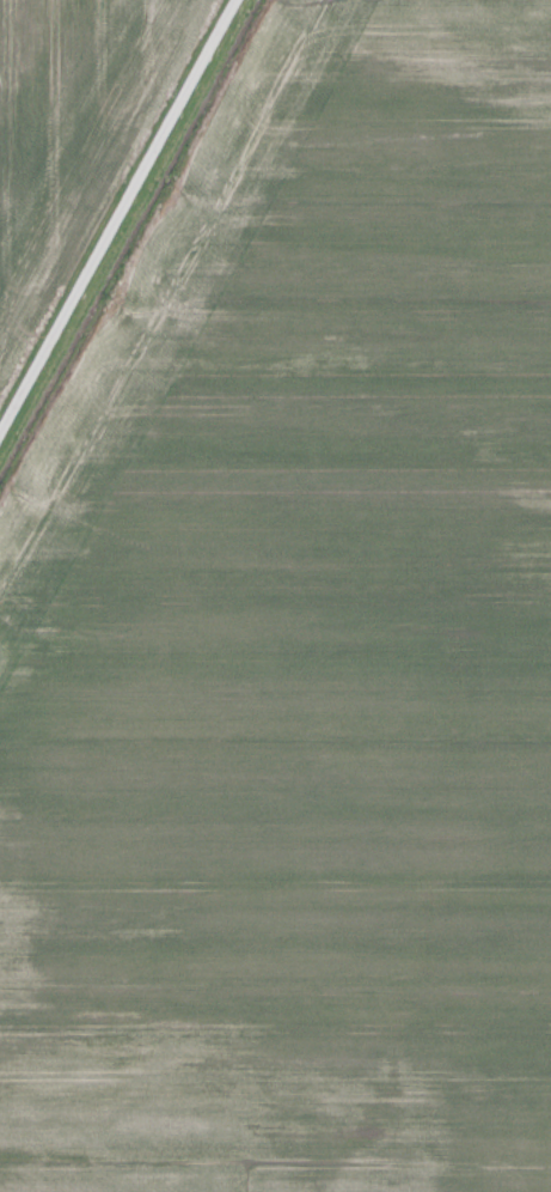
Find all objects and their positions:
road: (90, 163)

